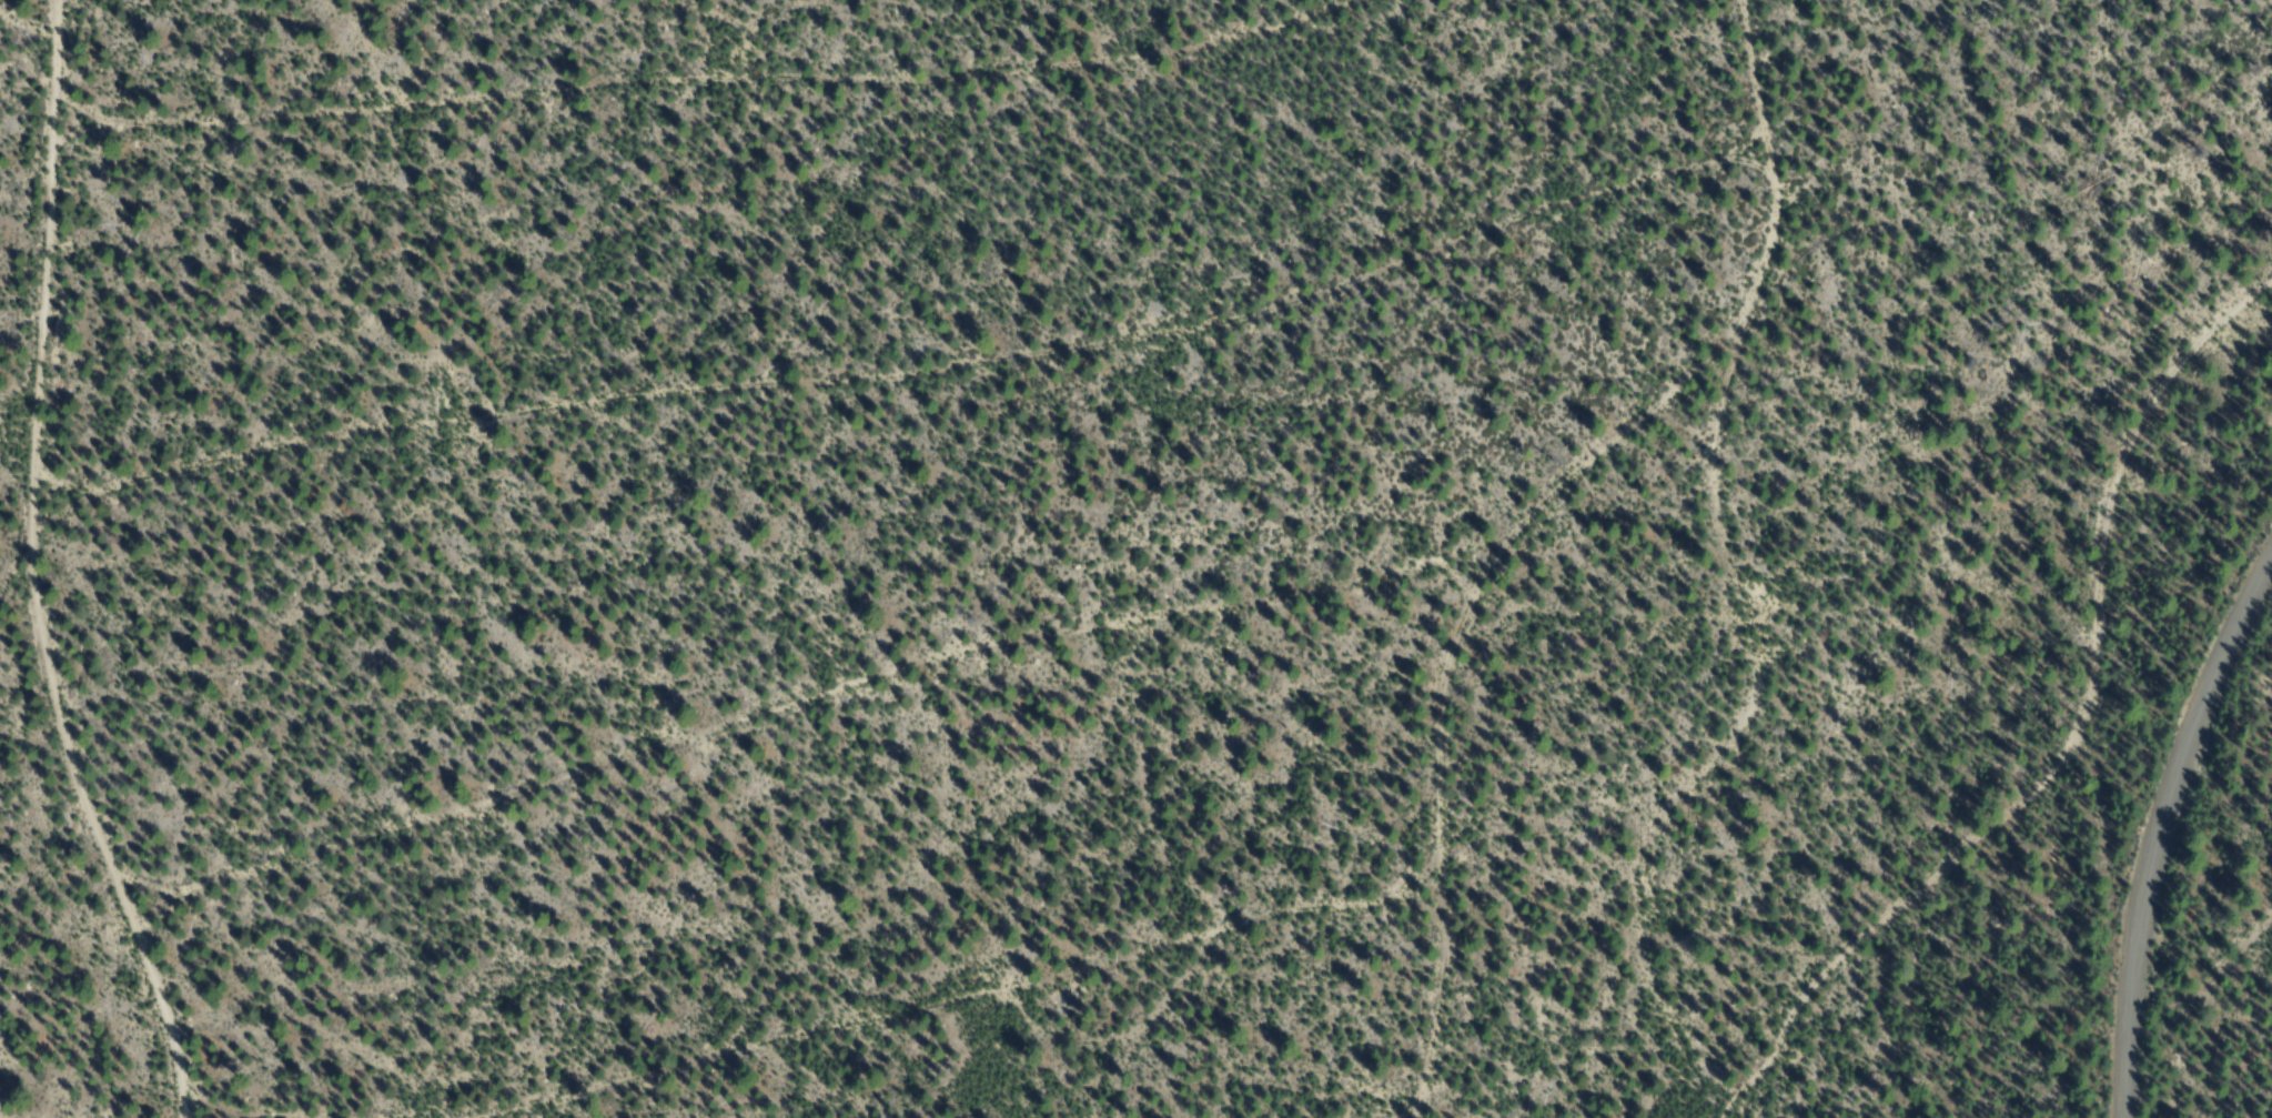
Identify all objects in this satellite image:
road: (794, 73)
road: (966, 344)
road: (92, 573)
road: (1807, 586)
road: (1445, 658)
road: (829, 707)
road: (2079, 727)
road: (2157, 828)
road: (1044, 1006)
road: (17, 1088)

